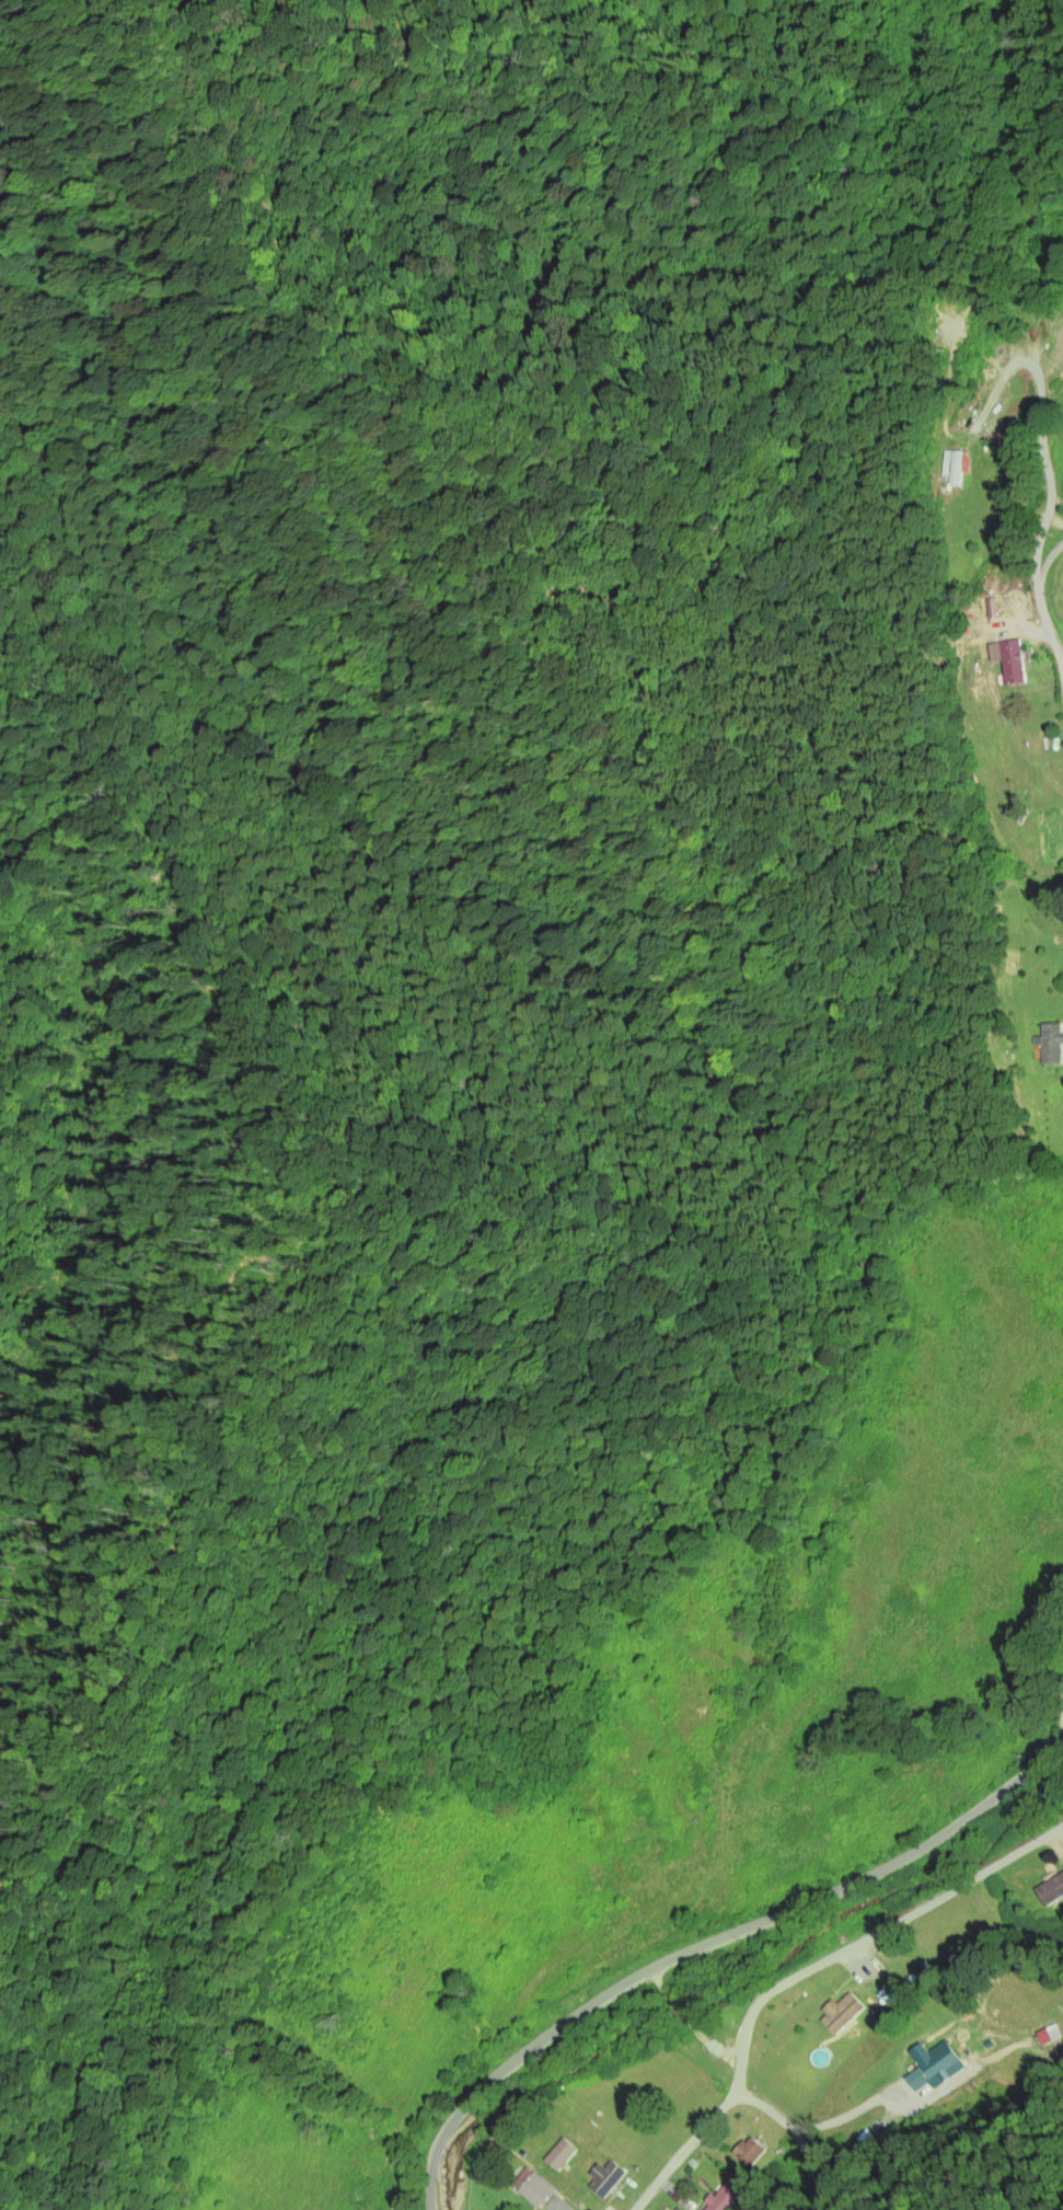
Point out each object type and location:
building: (1061, 329)
building: (956, 471)
road: (1047, 473)
road: (1047, 559)
building: (1013, 664)
building: (1050, 1045)
road: (1059, 1736)
building: (1051, 1889)
road: (709, 1948)
road: (800, 1971)
building: (923, 1973)
building: (912, 1981)
building: (906, 1985)
building: (841, 2013)
building: (1048, 2034)
building: (934, 2061)
building: (881, 2126)
road: (802, 2130)
building: (853, 2149)
building: (749, 2151)
building: (490, 2152)
building: (559, 2155)
building: (605, 2178)
building: (531, 2188)
building: (724, 2196)

